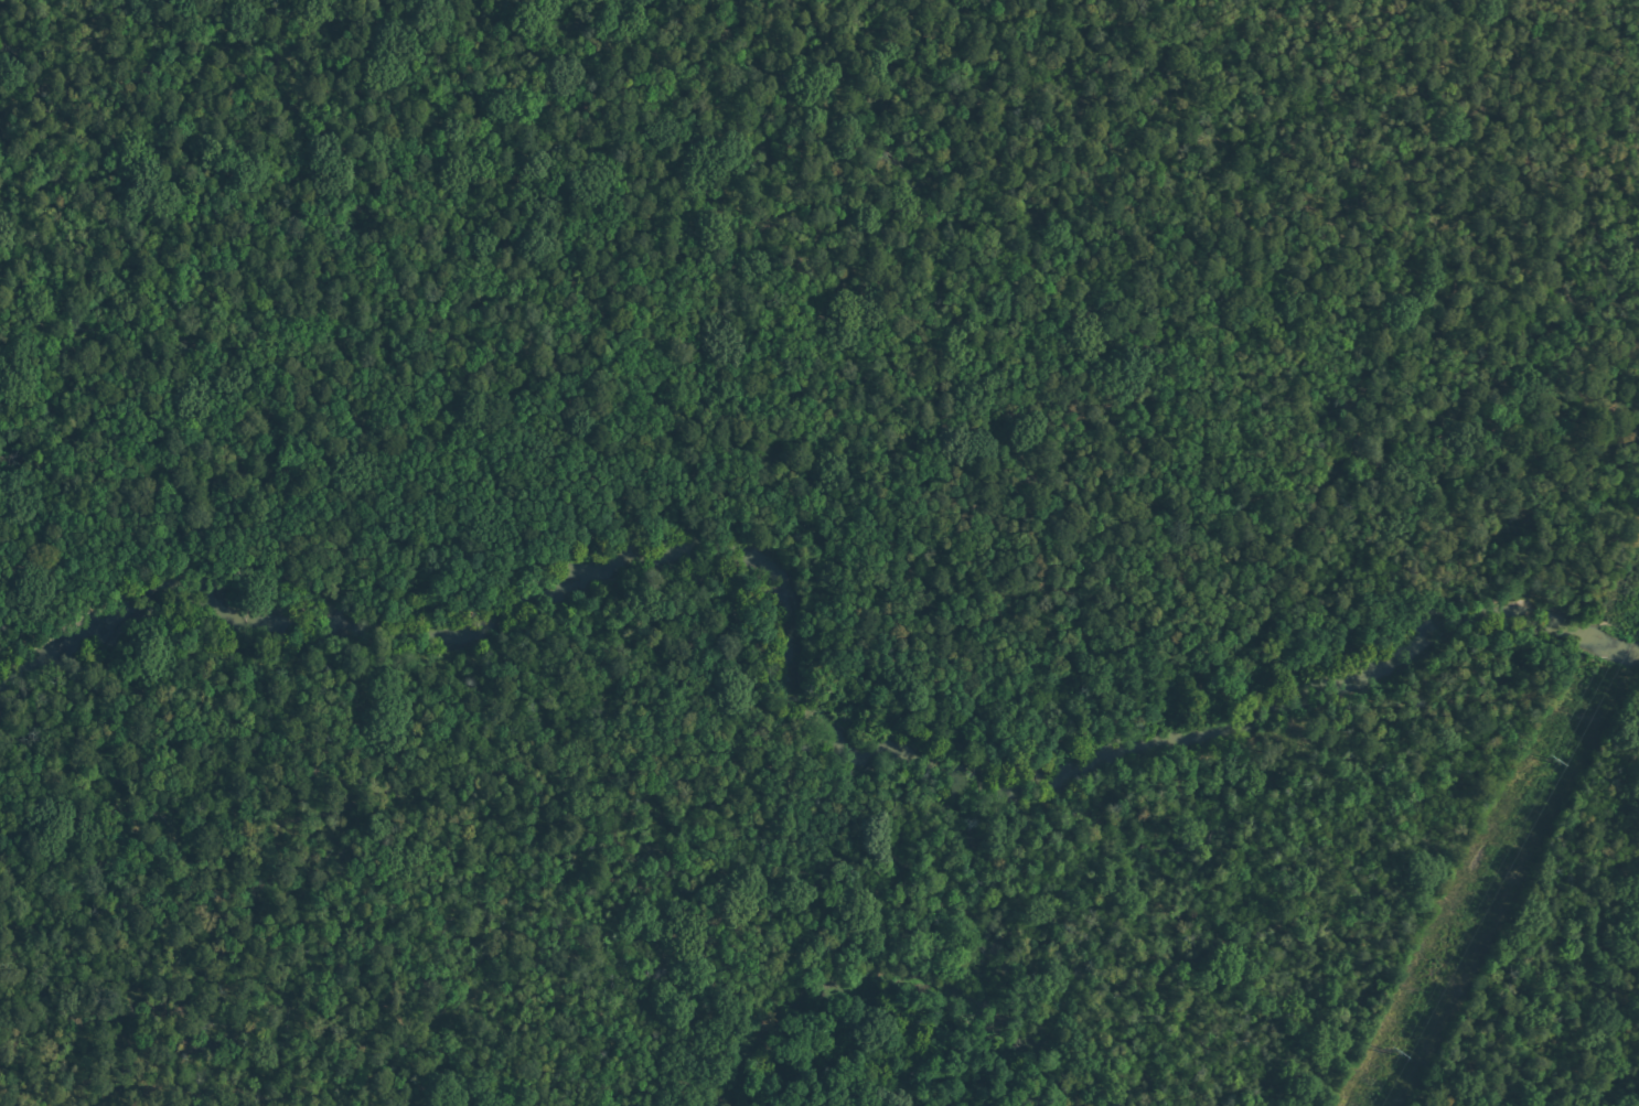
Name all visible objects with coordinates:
power tower: (1553, 761)
river: (891, 994)
power tower: (1395, 1052)

